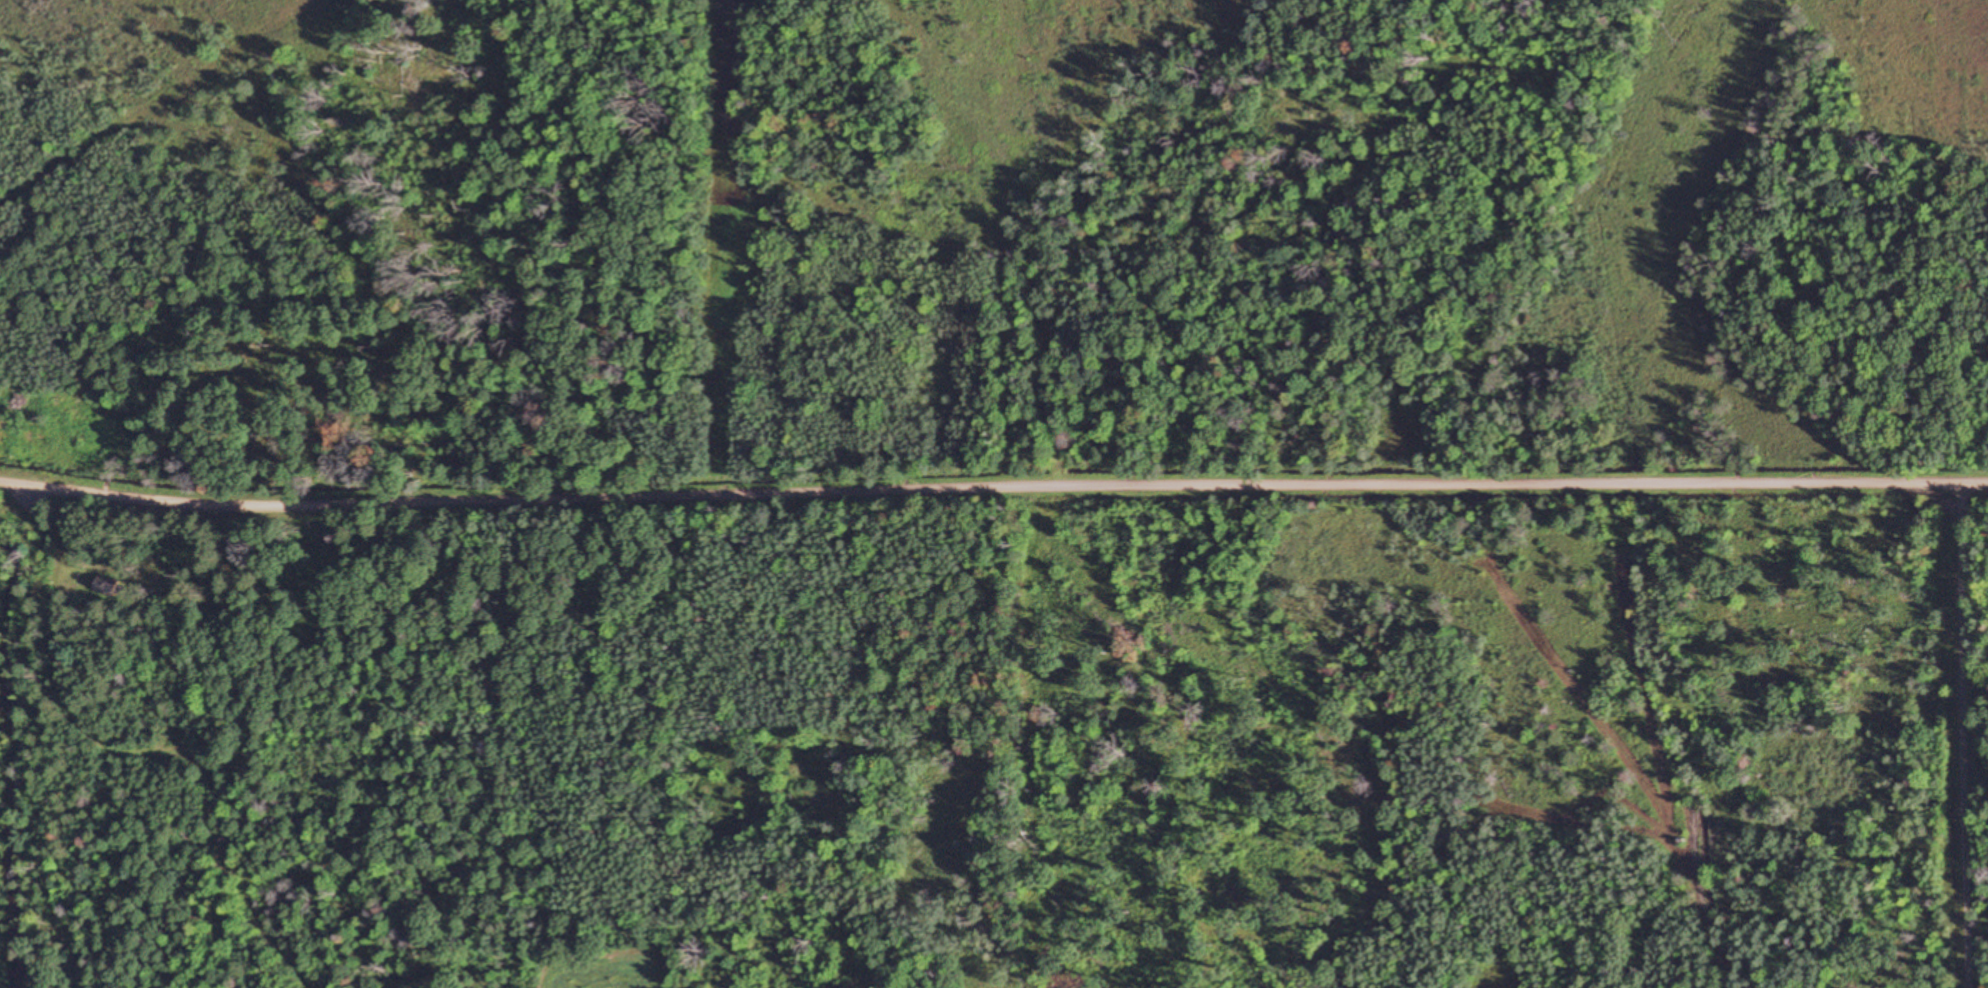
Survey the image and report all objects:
road: (991, 483)
building: (107, 587)

